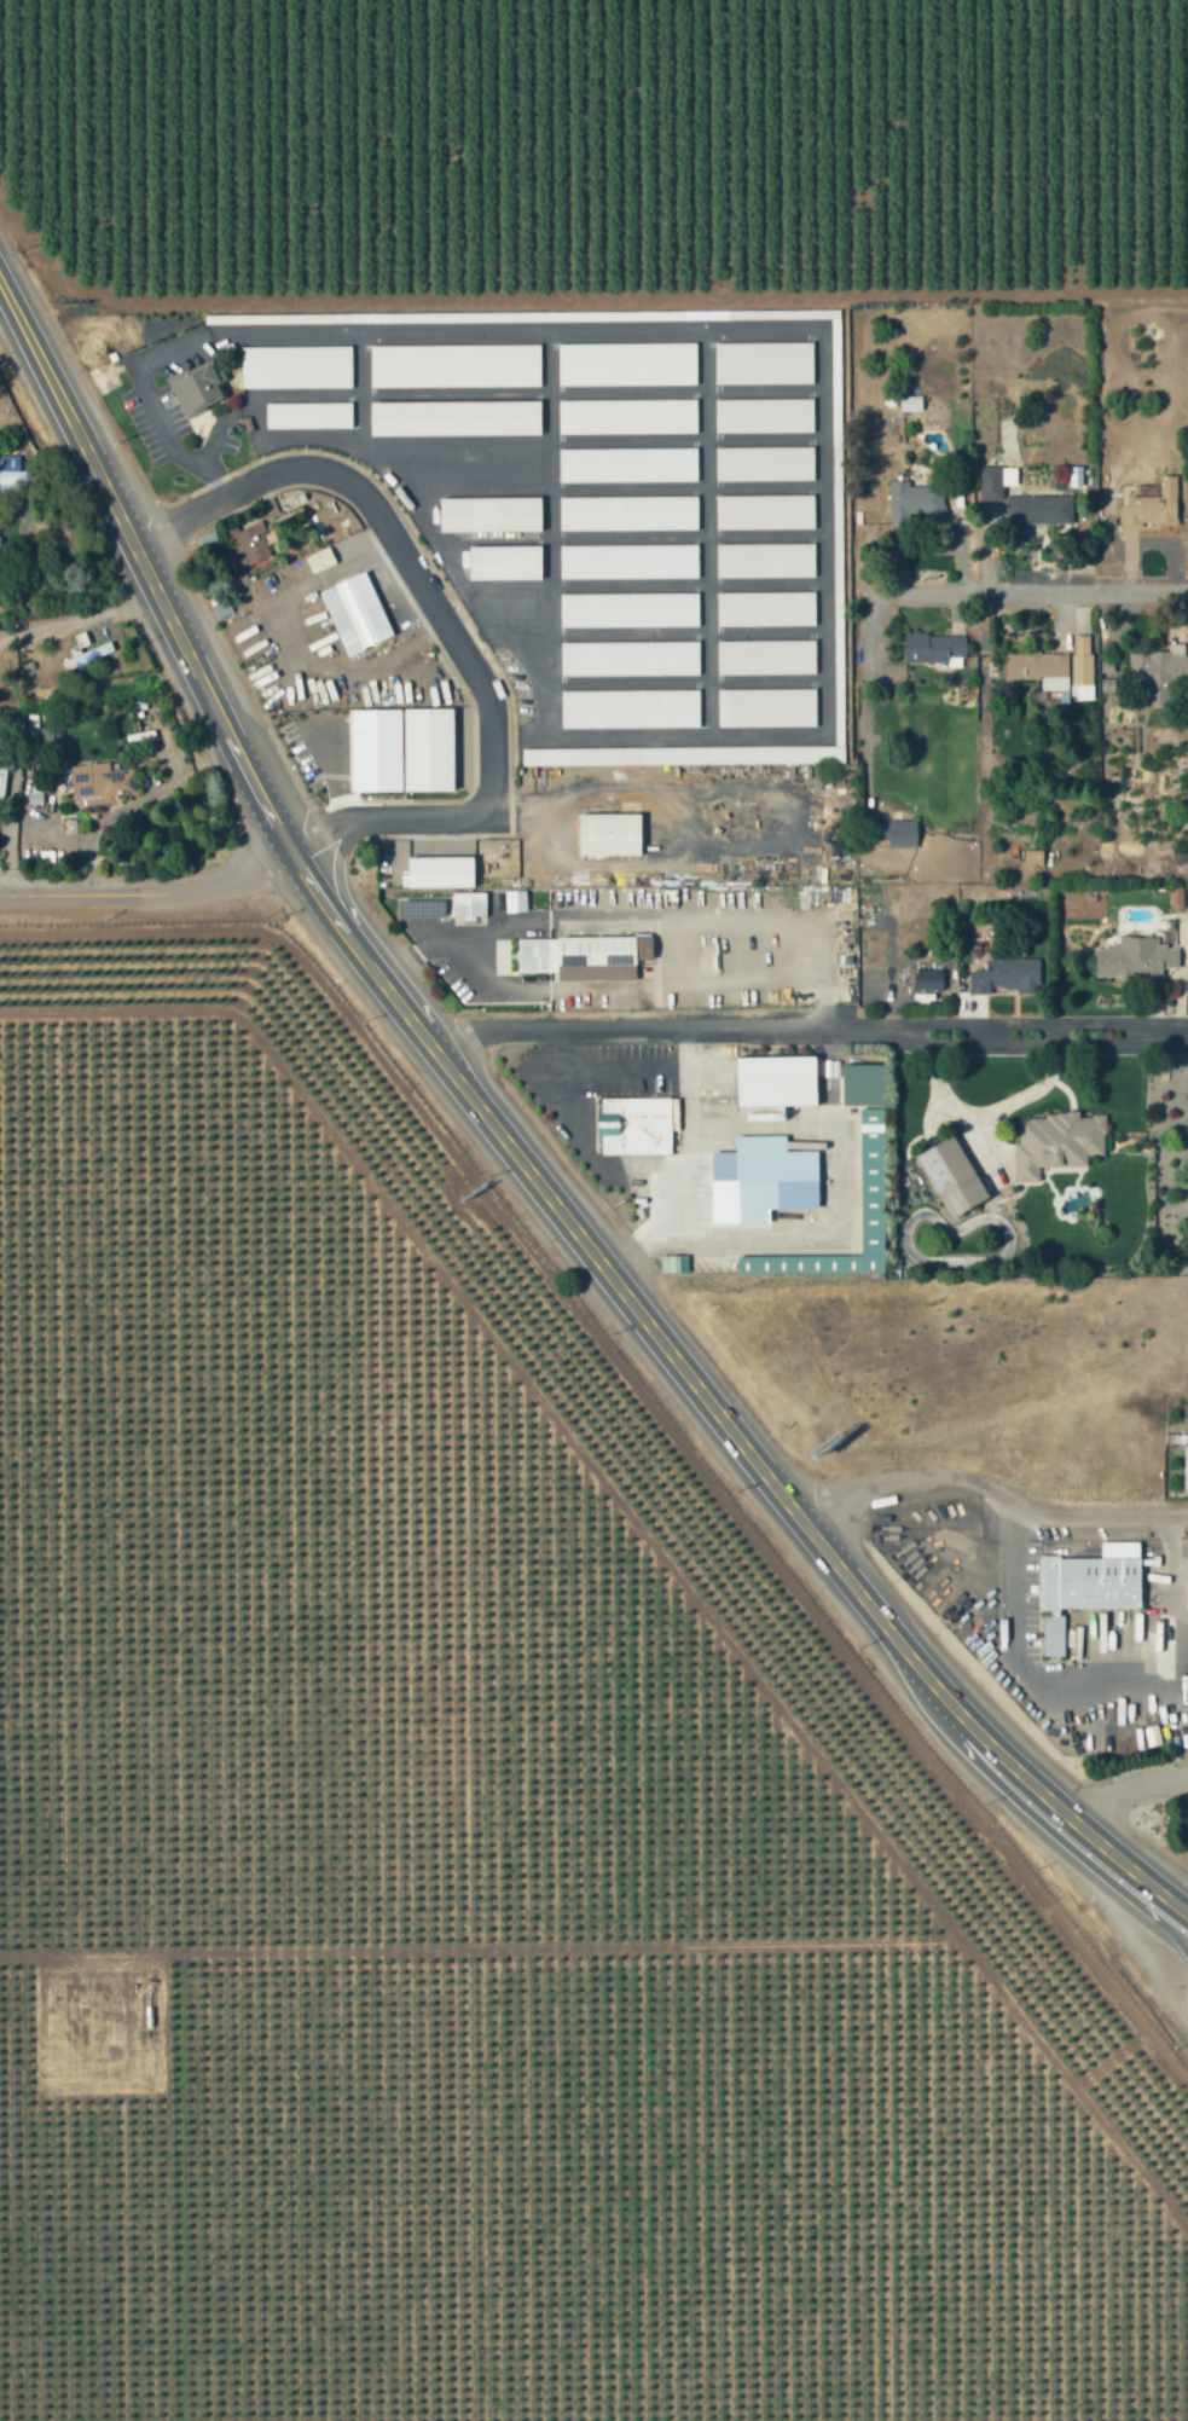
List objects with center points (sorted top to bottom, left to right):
building: (764, 361)
building: (626, 364)
building: (454, 365)
building: (296, 366)
building: (196, 388)
building: (910, 402)
building: (308, 415)
building: (764, 415)
building: (627, 416)
building: (454, 417)
building: (765, 463)
building: (628, 464)
building: (11, 470)
building: (1021, 499)
building: (915, 502)
building: (1152, 508)
building: (765, 511)
building: (628, 512)
building: (491, 514)
building: (250, 544)
building: (320, 560)
building: (765, 560)
building: (628, 561)
building: (505, 562)
road: (1102, 589)
building: (352, 607)
building: (766, 608)
building: (628, 609)
road: (77, 618)
road: (444, 621)
building: (934, 648)
building: (766, 656)
building: (630, 658)
building: (1082, 666)
building: (1039, 668)
building: (1160, 672)
building: (766, 707)
building: (630, 708)
building: (423, 743)
building: (336, 754)
building: (683, 755)
building: (99, 783)
building: (896, 833)
building: (610, 834)
building: (1033, 857)
building: (436, 867)
road: (146, 888)
building: (1176, 897)
building: (570, 898)
building: (515, 900)
building: (584, 956)
building: (1136, 957)
building: (1007, 975)
building: (928, 979)
road: (806, 1021)
building: (776, 1081)
building: (637, 1125)
building: (1056, 1142)
road: (516, 1154)
building: (952, 1177)
building: (761, 1180)
building: (871, 1180)
building: (668, 1264)
building: (1186, 1467)
road: (989, 1483)
building: (1083, 1592)
road: (1128, 1789)

